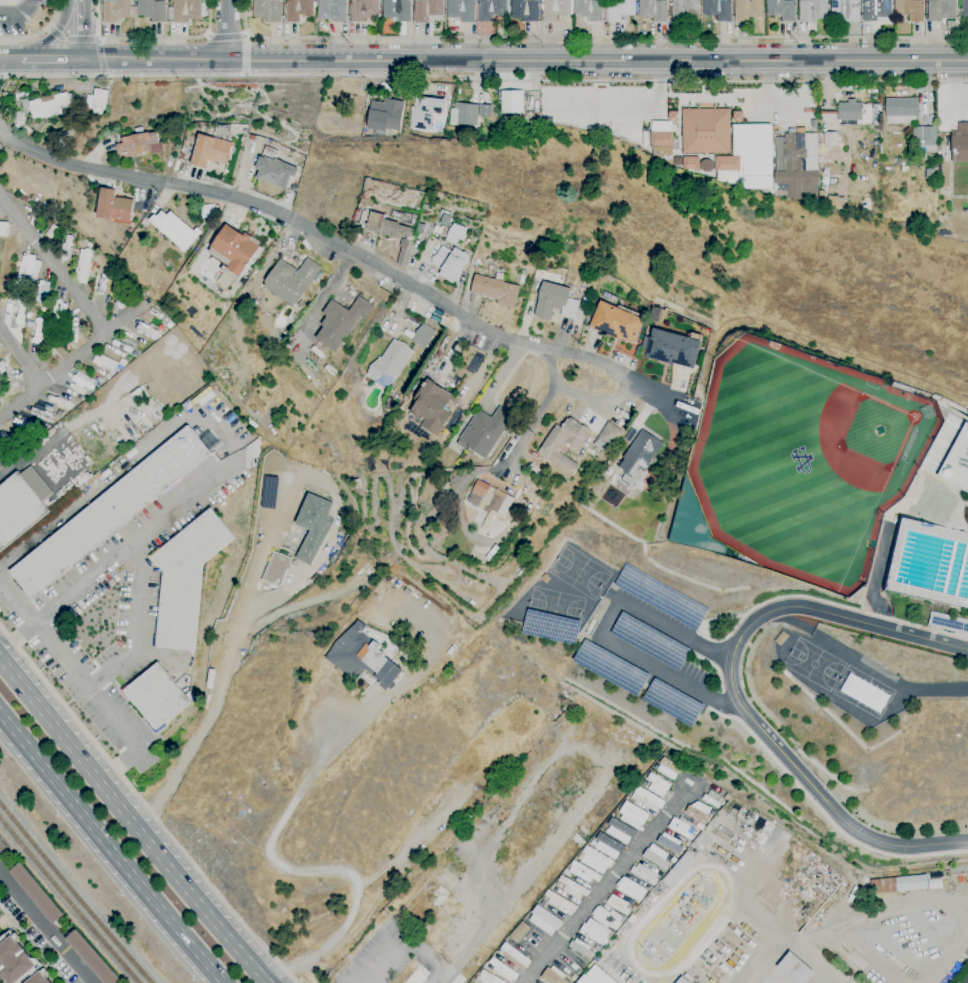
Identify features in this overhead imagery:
building: (491, 9)
building: (683, 9)
building: (718, 9)
building: (782, 9)
building: (876, 9)
building: (910, 9)
building: (116, 10)
building: (152, 10)
building: (186, 10)
building: (267, 10)
building: (298, 10)
building: (332, 10)
building: (363, 10)
building: (397, 10)
building: (428, 10)
building: (461, 10)
building: (524, 10)
building: (555, 10)
building: (589, 10)
building: (620, 10)
building: (653, 10)
building: (748, 10)
building: (813, 10)
building: (845, 10)
building: (941, 10)
building: (964, 10)
road: (20, 14)
road: (49, 29)
road: (82, 30)
road: (227, 30)
road: (40, 34)
road: (55, 34)
road: (246, 36)
road: (589, 36)
road: (150, 38)
road: (69, 40)
road: (94, 40)
road: (96, 41)
road: (99, 57)
road: (10, 59)
road: (52, 60)
road: (525, 60)
road: (103, 74)
road: (484, 77)
flagpole: (730, 84)
flagpole: (732, 84)
flagpole: (735, 84)
building: (98, 101)
building: (511, 102)
building: (49, 106)
parking lot: (597, 108)
road: (631, 108)
building: (424, 111)
building: (849, 111)
building: (901, 111)
building: (20, 114)
building: (463, 114)
building: (384, 116)
building: (26, 130)
building: (704, 130)
building: (138, 131)
building: (660, 134)
building: (925, 135)
building: (252, 138)
building: (830, 139)
building: (136, 144)
building: (960, 144)
building: (210, 151)
building: (795, 151)
building: (660, 153)
building: (291, 154)
building: (182, 157)
building: (725, 163)
building: (695, 164)
building: (274, 169)
building: (929, 174)
building: (798, 183)
building: (113, 206)
building: (409, 219)
building: (446, 220)
building: (33, 222)
building: (4, 229)
building: (175, 230)
building: (388, 233)
building: (456, 234)
building: (233, 250)
road: (352, 250)
building: (449, 263)
road: (53, 265)
building: (82, 265)
building: (28, 271)
building: (119, 279)
building: (291, 280)
building: (496, 290)
building: (43, 292)
building: (555, 302)
building: (58, 312)
building: (20, 313)
building: (341, 322)
building: (616, 322)
building: (422, 336)
building: (122, 343)
building: (55, 347)
building: (674, 349)
building: (135, 353)
road: (20, 359)
building: (105, 363)
building: (122, 363)
road: (67, 364)
building: (389, 364)
building: (107, 377)
building: (83, 381)
road: (600, 405)
building: (431, 408)
road: (541, 409)
building: (486, 432)
building: (607, 437)
building: (563, 444)
building: (638, 457)
park: (804, 459)
building: (957, 462)
road: (121, 470)
building: (608, 472)
building: (599, 479)
building: (489, 502)
building: (21, 504)
building: (113, 510)
building: (692, 524)
building: (313, 526)
road: (117, 558)
road: (262, 562)
building: (274, 569)
park: (578, 572)
building: (185, 580)
building: (661, 596)
road: (832, 605)
park: (555, 607)
building: (380, 608)
building: (948, 623)
building: (552, 626)
road: (138, 628)
road: (676, 630)
building: (781, 639)
building: (649, 640)
parking lot: (653, 645)
building: (362, 657)
road: (651, 663)
park: (814, 664)
road: (864, 665)
building: (637, 681)
road: (85, 685)
park: (863, 690)
road: (733, 691)
building: (155, 696)
building: (666, 769)
building: (658, 782)
building: (647, 799)
building: (710, 799)
road: (145, 807)
building: (698, 811)
building: (632, 815)
road: (825, 816)
road: (131, 823)
building: (681, 828)
building: (620, 831)
building: (669, 843)
building: (2, 846)
building: (607, 846)
road: (111, 847)
building: (657, 857)
building: (594, 860)
road: (293, 869)
building: (679, 870)
building: (581, 873)
building: (644, 874)
building: (898, 884)
road: (606, 885)
building: (572, 888)
building: (631, 889)
building: (36, 893)
railway: (74, 894)
railway: (68, 901)
building: (560, 903)
building: (618, 904)
building: (607, 918)
building: (543, 920)
road: (45, 926)
building: (595, 932)
building: (519, 933)
building: (580, 948)
building: (514, 954)
road: (761, 957)
road: (812, 957)
building: (91, 958)
building: (18, 963)
road: (373, 967)
building: (795, 968)
building: (502, 969)
road: (818, 975)
building: (553, 976)
building: (596, 977)
building: (488, 978)
building: (574, 978)
building: (683, 979)

